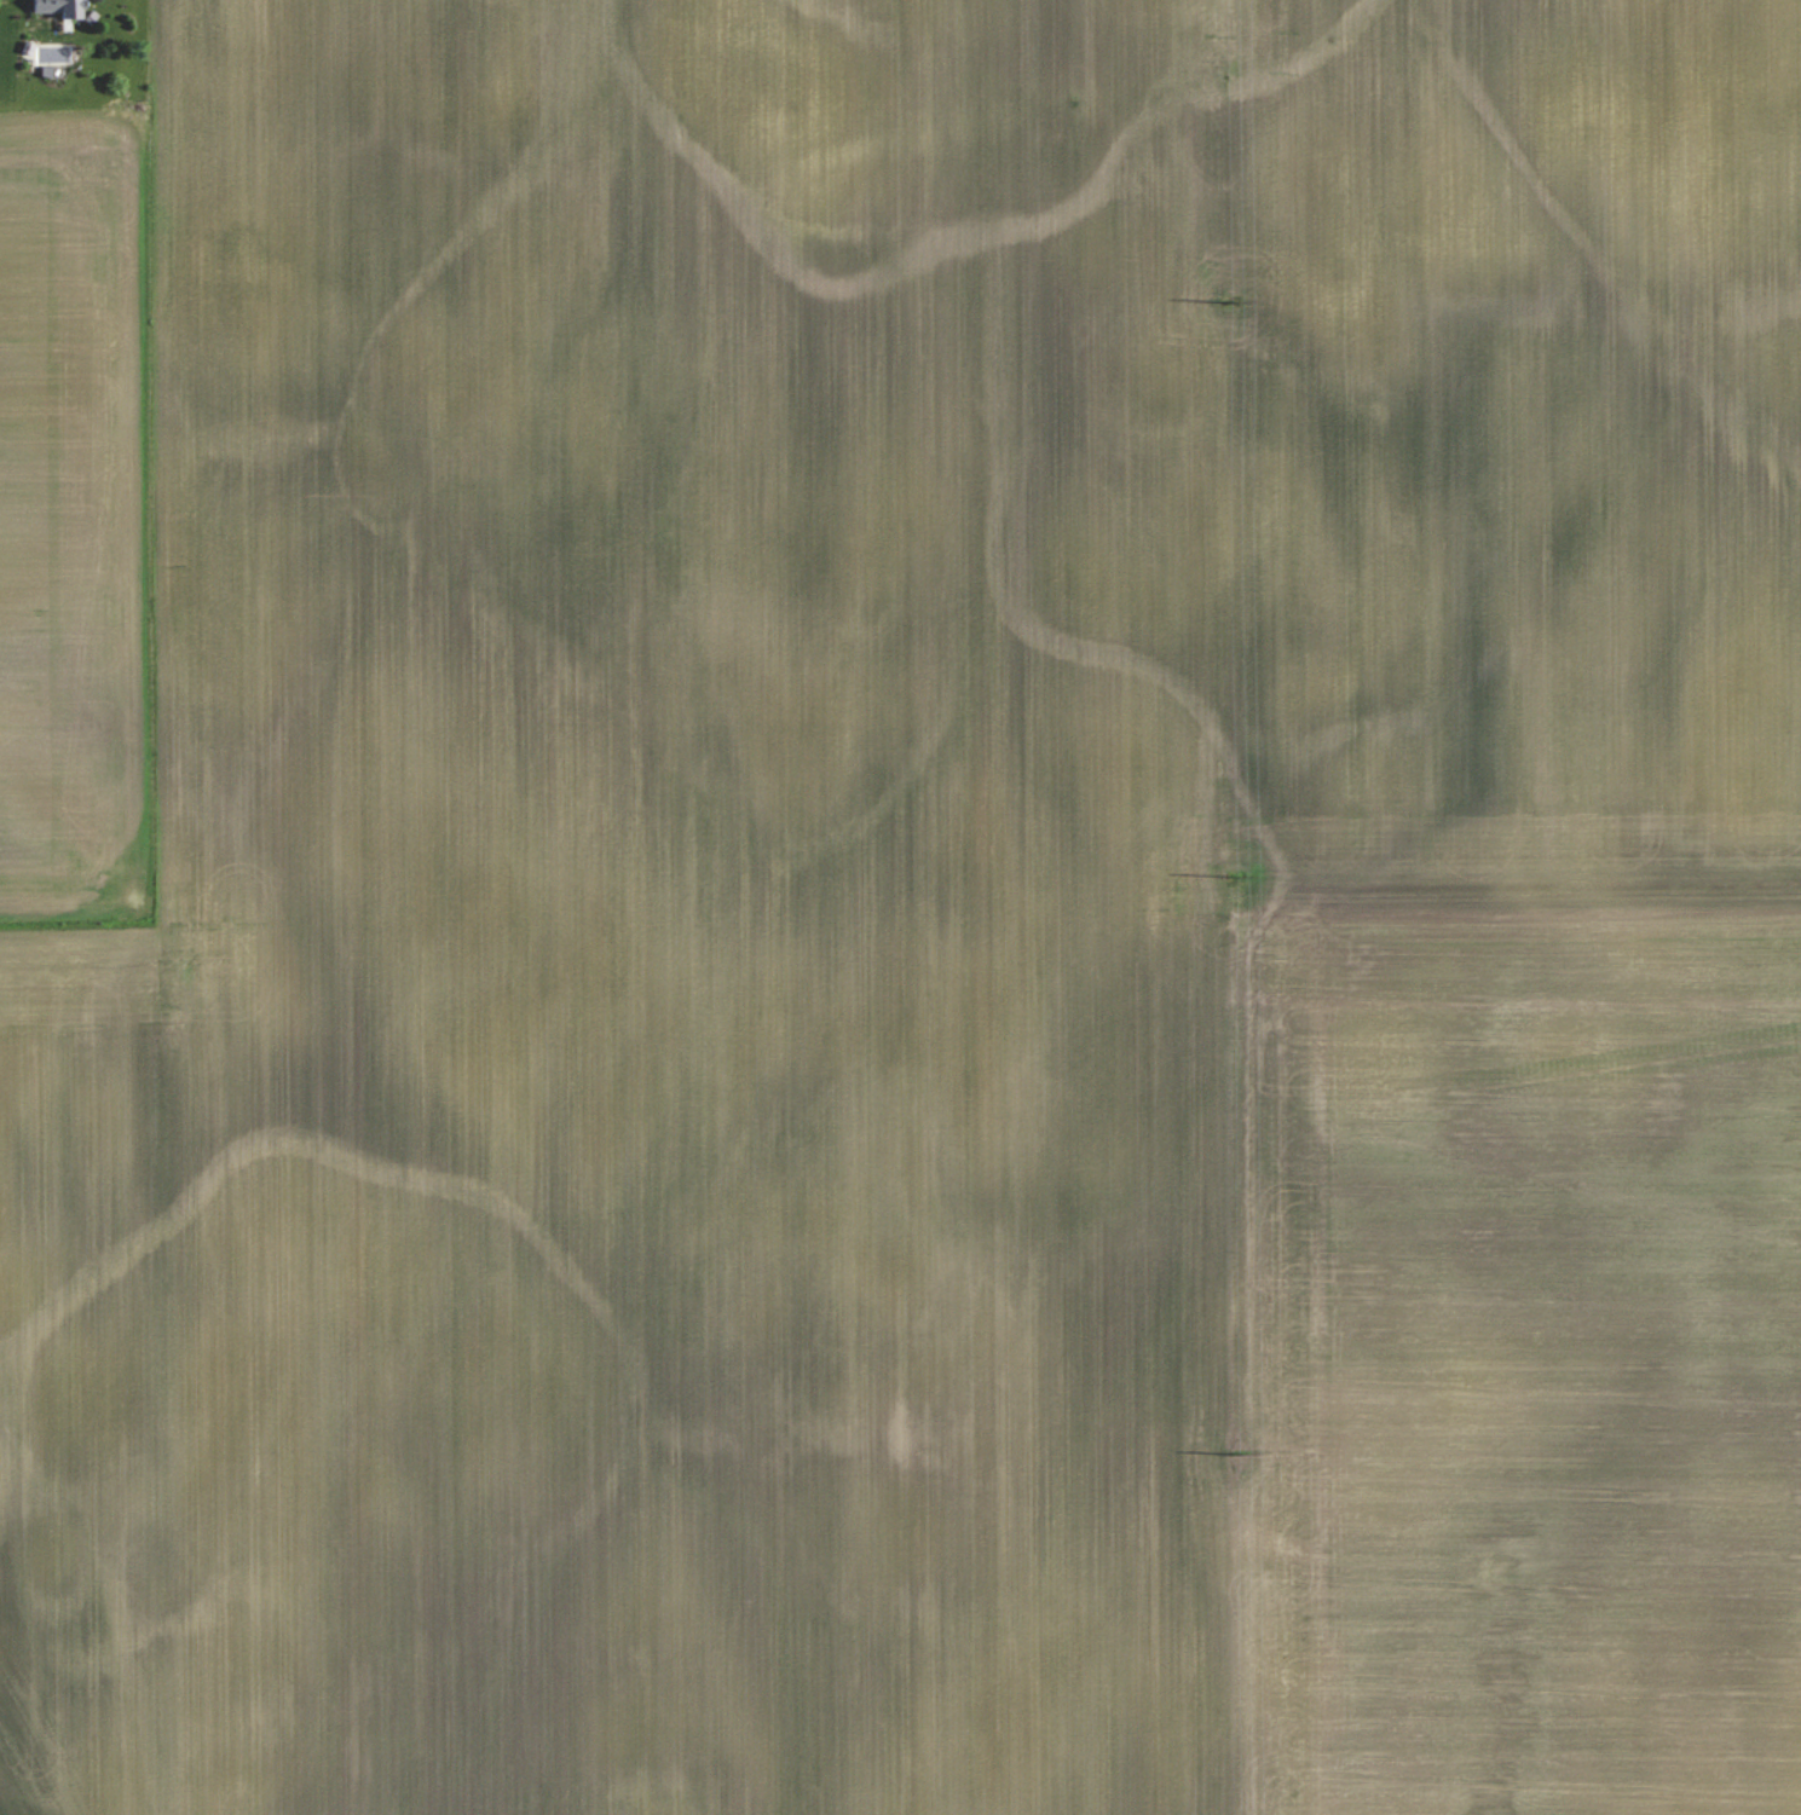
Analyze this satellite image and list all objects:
building: (62, 7)

